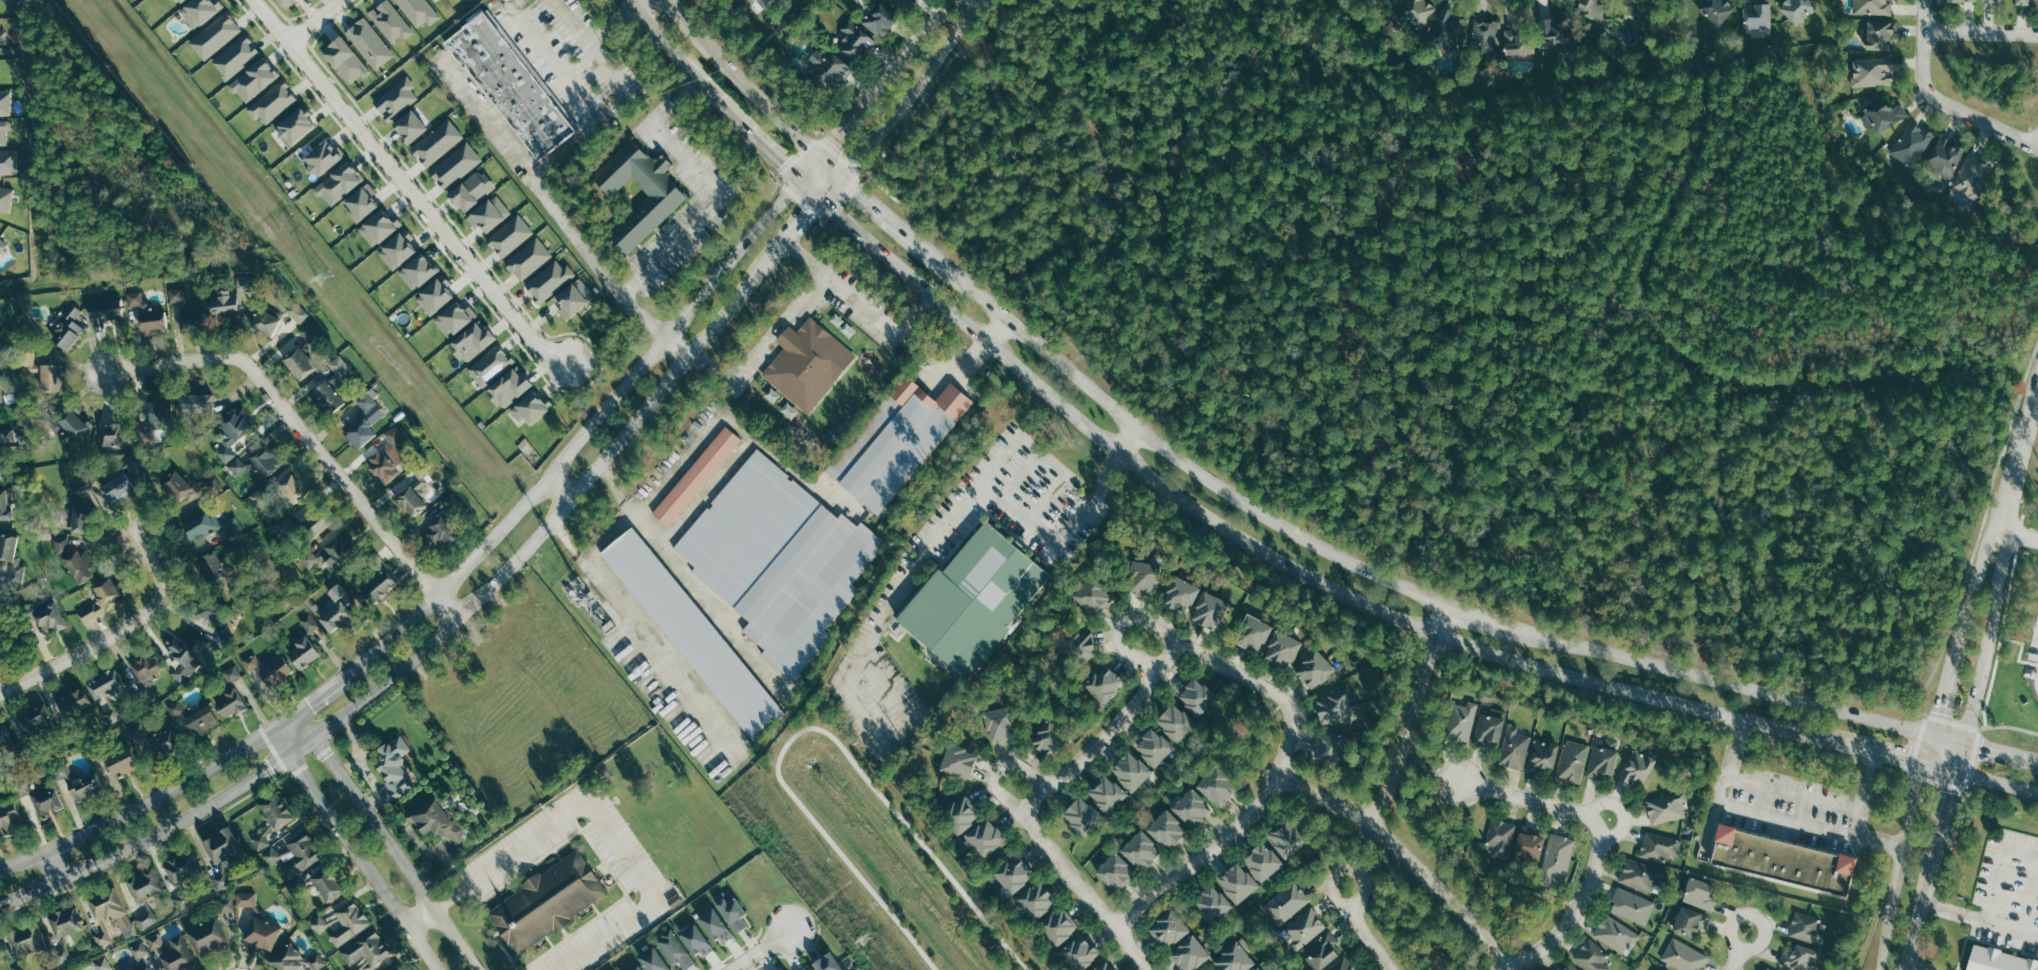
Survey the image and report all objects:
building: (1961, 0)
building: (174, 1)
building: (1989, 1)
building: (284, 2)
road: (635, 2)
building: (762, 2)
building: (1390, 2)
building: (2021, 2)
building: (898, 4)
building: (1873, 7)
building: (0, 8)
building: (1592, 8)
building: (1797, 9)
building: (1717, 10)
building: (198, 11)
building: (418, 11)
building: (1418, 11)
building: (1756, 14)
building: (391, 20)
road: (571, 21)
road: (314, 22)
road: (610, 23)
building: (1448, 27)
road: (654, 30)
building: (3, 32)
building: (1557, 33)
road: (1981, 33)
building: (1878, 35)
building: (214, 36)
building: (1486, 36)
road: (920, 38)
building: (853, 39)
building: (368, 42)
building: (1518, 44)
building: (235, 56)
parking lot: (569, 57)
building: (343, 60)
building: (826, 67)
building: (1872, 71)
building: (1, 74)
building: (253, 79)
road: (740, 80)
building: (512, 84)
road: (908, 90)
building: (396, 98)
road: (583, 99)
road: (1938, 101)
building: (272, 102)
building: (8, 103)
building: (1882, 114)
building: (294, 125)
building: (408, 126)
road: (841, 128)
road: (745, 131)
traffic signals: (835, 136)
building: (436, 143)
building: (1912, 144)
road: (2037, 144)
road: (567, 146)
road: (2037, 146)
building: (321, 157)
building: (1946, 157)
building: (10, 162)
traffic signals: (781, 162)
building: (455, 165)
building: (1974, 176)
building: (338, 182)
road: (406, 187)
road: (715, 188)
traffic signals: (852, 189)
building: (470, 190)
building: (667, 193)
building: (8, 198)
road: (545, 199)
building: (360, 201)
traffic signals: (804, 212)
building: (488, 214)
road: (890, 222)
road: (793, 224)
building: (378, 227)
parking lot: (686, 230)
building: (509, 236)
building: (4, 246)
building: (396, 248)
building: (528, 259)
building: (416, 271)
power tower: (323, 276)
building: (548, 280)
building: (433, 294)
building: (231, 296)
building: (572, 298)
road: (860, 303)
parking lot: (863, 307)
building: (106, 308)
building: (183, 311)
building: (298, 312)
building: (146, 314)
building: (453, 318)
building: (265, 322)
building: (66, 328)
road: (998, 331)
building: (307, 332)
building: (471, 341)
road: (677, 343)
road: (761, 348)
building: (299, 362)
building: (806, 363)
road: (963, 363)
building: (40, 367)
building: (338, 369)
building: (499, 376)
building: (51, 377)
building: (1, 389)
building: (326, 395)
building: (198, 403)
building: (531, 406)
building: (158, 412)
building: (364, 419)
building: (69, 422)
road: (587, 425)
building: (117, 429)
building: (233, 432)
building: (5, 436)
road: (2022, 436)
road: (305, 440)
road: (1127, 440)
building: (894, 441)
building: (388, 456)
building: (132, 460)
building: (257, 461)
road: (1193, 468)
building: (696, 475)
road: (1022, 475)
building: (119, 486)
building: (180, 486)
building: (211, 486)
road: (558, 486)
building: (278, 496)
building: (410, 499)
road: (1046, 499)
building: (5, 503)
building: (81, 508)
building: (304, 523)
building: (199, 526)
building: (231, 526)
building: (745, 526)
building: (314, 527)
building: (439, 530)
road: (1061, 533)
road: (2020, 535)
building: (328, 552)
road: (1264, 552)
building: (14, 557)
building: (78, 565)
road: (1980, 566)
building: (212, 567)
building: (1141, 577)
building: (376, 583)
building: (806, 588)
parking lot: (894, 595)
building: (1179, 595)
building: (1093, 596)
building: (102, 599)
building: (974, 599)
road: (893, 600)
power tower: (589, 601)
building: (213, 610)
building: (336, 611)
building: (1208, 611)
building: (45, 615)
road: (1487, 618)
road: (1988, 619)
building: (309, 623)
road: (112, 632)
building: (690, 632)
building: (1252, 633)
building: (11, 636)
building: (1080, 646)
road: (1179, 647)
road: (424, 648)
building: (1281, 649)
building: (304, 651)
building: (183, 655)
building: (0, 659)
building: (250, 662)
building: (146, 664)
building: (1313, 669)
building: (275, 671)
building: (232, 674)
road: (1726, 682)
building: (105, 684)
building: (1102, 684)
road: (316, 696)
building: (1195, 697)
road: (1936, 700)
building: (75, 703)
building: (231, 703)
building: (175, 708)
building: (1332, 708)
traffic signals: (1934, 711)
road: (1408, 712)
building: (112, 716)
building: (202, 720)
building: (1462, 721)
building: (36, 722)
building: (1174, 722)
building: (997, 724)
road: (1104, 735)
building: (4, 736)
building: (1046, 737)
building: (166, 743)
building: (1329, 745)
building: (1152, 747)
building: (1516, 748)
traffic signals: (1981, 748)
road: (1982, 748)
road: (1879, 752)
building: (1544, 754)
building: (1603, 758)
traffic signals: (1905, 759)
building: (122, 761)
building: (957, 761)
building: (1573, 762)
building: (1, 765)
building: (393, 766)
building: (1637, 767)
building: (1129, 771)
building: (78, 782)
road: (1723, 782)
road: (1995, 782)
building: (1215, 787)
traffic signals: (1948, 791)
building: (1105, 794)
road: (1531, 797)
road: (1820, 797)
building: (45, 800)
road: (138, 808)
building: (1665, 808)
building: (1190, 809)
building: (276, 810)
road: (1942, 812)
building: (960, 814)
building: (1080, 816)
building: (8, 819)
road: (1798, 820)
road: (1909, 820)
road: (600, 823)
building: (1165, 830)
building: (1501, 837)
building: (983, 838)
road: (1221, 839)
building: (1286, 839)
road: (1879, 839)
building: (259, 840)
road: (384, 841)
road: (1046, 844)
building: (222, 845)
building: (1659, 847)
road: (355, 848)
building: (1139, 850)
building: (292, 851)
parking lot: (514, 852)
road: (1408, 853)
building: (1780, 860)
building: (1556, 861)
building: (1261, 862)
road: (52, 865)
building: (181, 866)
road: (1998, 868)
building: (1115, 873)
building: (1012, 874)
building: (1640, 875)
building: (218, 881)
building: (1236, 883)
building: (144, 885)
building: (325, 887)
building: (297, 888)
building: (1700, 894)
building: (244, 899)
building: (1035, 901)
building: (546, 902)
building: (1288, 902)
building: (1210, 904)
road: (1576, 904)
building: (224, 905)
building: (1632, 906)
building: (108, 907)
road: (1890, 909)
building: (732, 913)
road: (419, 916)
road: (1979, 918)
building: (146, 919)
building: (65, 922)
building: (1689, 922)
road: (1914, 922)
building: (349, 923)
building: (319, 924)
building: (713, 925)
building: (1057, 927)
building: (1305, 928)
road: (1361, 928)
building: (1807, 929)
building: (1166, 930)
building: (262, 933)
building: (1616, 934)
building: (208, 936)
power tower: (865, 938)
building: (26, 940)
building: (155, 941)
building: (695, 941)
road: (1735, 947)
building: (673, 949)
building: (139, 950)
road: (758, 951)
building: (1322, 951)
building: (366, 953)
building: (1079, 953)
building: (1189, 954)
building: (61, 955)
building: (179, 955)
road: (1883, 955)
building: (1683, 956)
building: (1592, 957)
building: (1799, 958)
building: (0, 959)
building: (1233, 959)
building: (292, 960)
building: (651, 960)
building: (1997, 960)
building: (822, 963)
building: (102, 964)
building: (1343, 965)
building: (1103, 966)
road: (1902, 966)
road: (1913, 966)
building: (1568, 967)
building: (389, 968)
building: (636, 968)
building: (144, 969)
building: (327, 969)
building: (785, 969)
building: (1257, 969)
building: (1665, 969)
building: (1765, 969)

